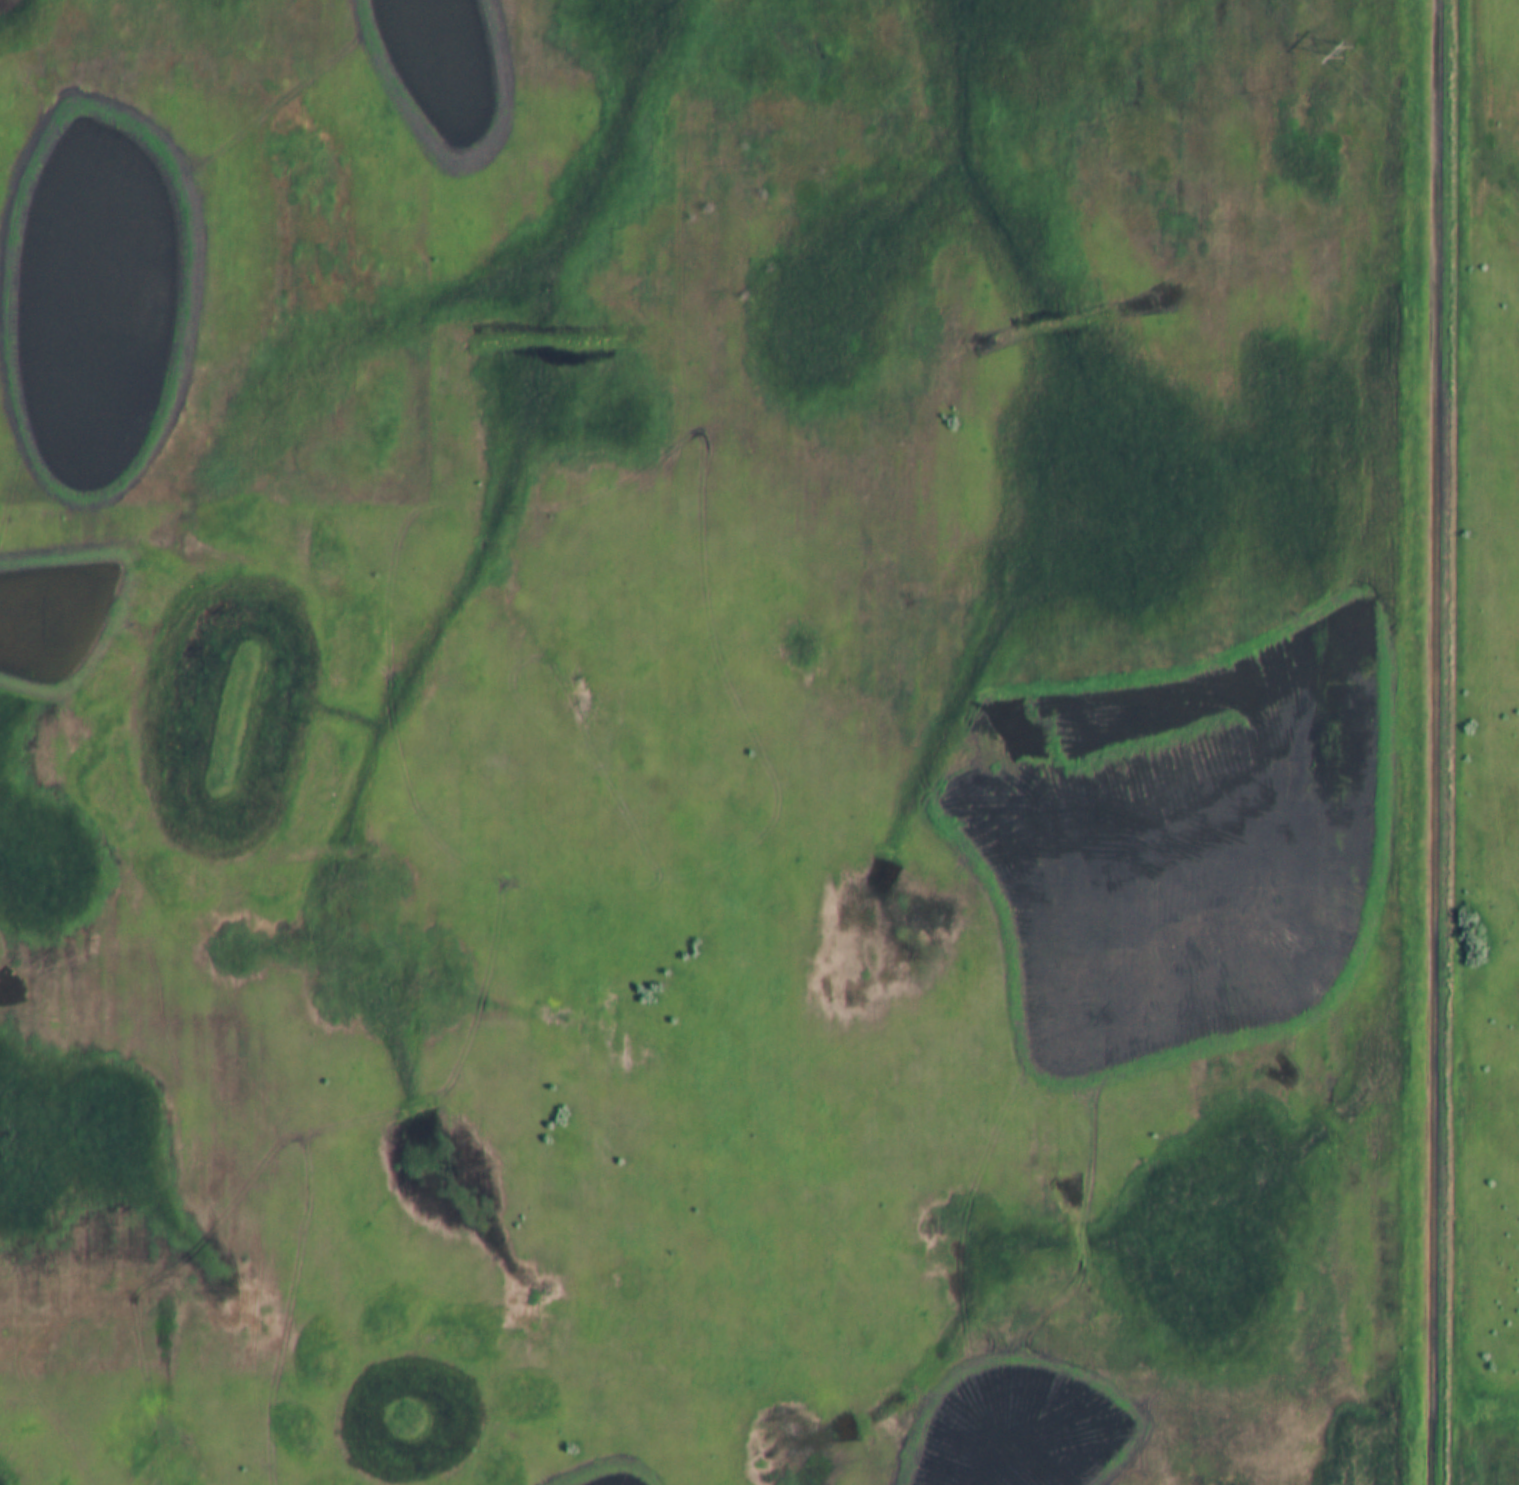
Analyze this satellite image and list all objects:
power tower: (1346, 50)
road: (1448, 742)

